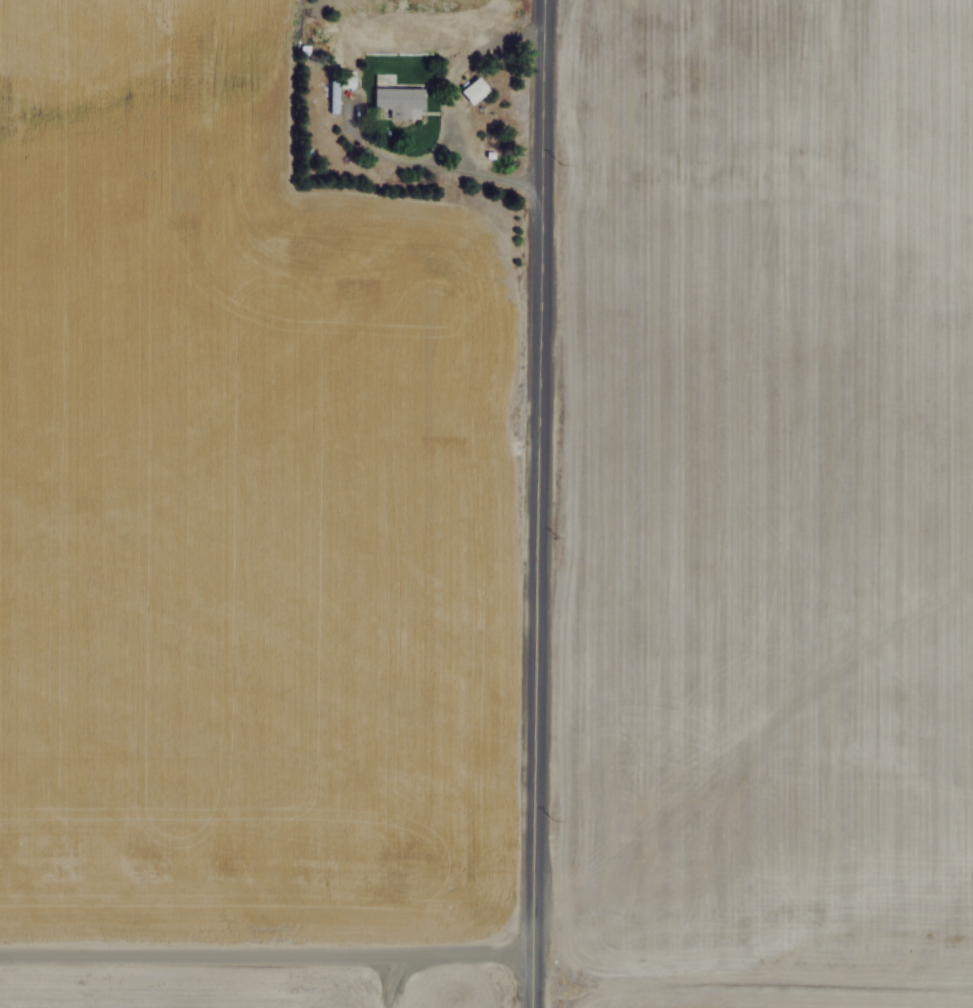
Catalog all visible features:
building: (398, 103)
road: (534, 503)
road: (265, 945)

